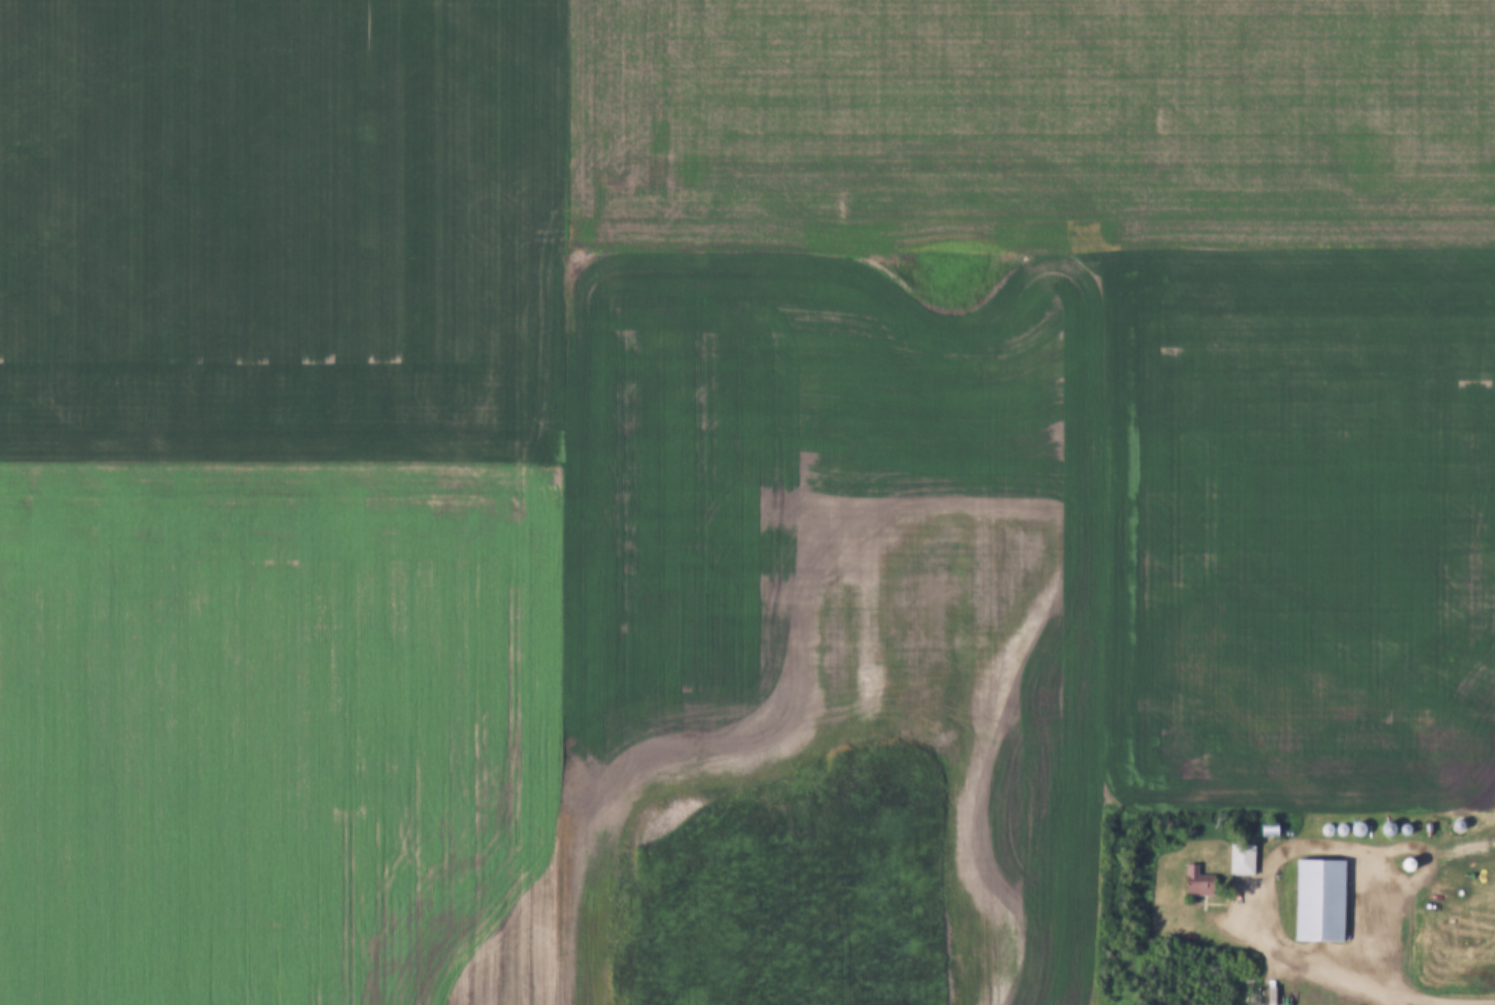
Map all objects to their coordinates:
building: (1452, 822)
silo: (1452, 822)
building: (1262, 825)
building: (1382, 826)
silo: (1382, 826)
building: (1400, 827)
silo: (1400, 827)
building: (1352, 828)
silo: (1352, 828)
building: (1322, 829)
silo: (1322, 829)
building: (1336, 829)
silo: (1336, 829)
building: (1236, 855)
road: (1269, 859)
building: (1402, 864)
silo: (1402, 864)
building: (1191, 878)
building: (1313, 899)
road: (1455, 1001)
road: (1415, 1003)

